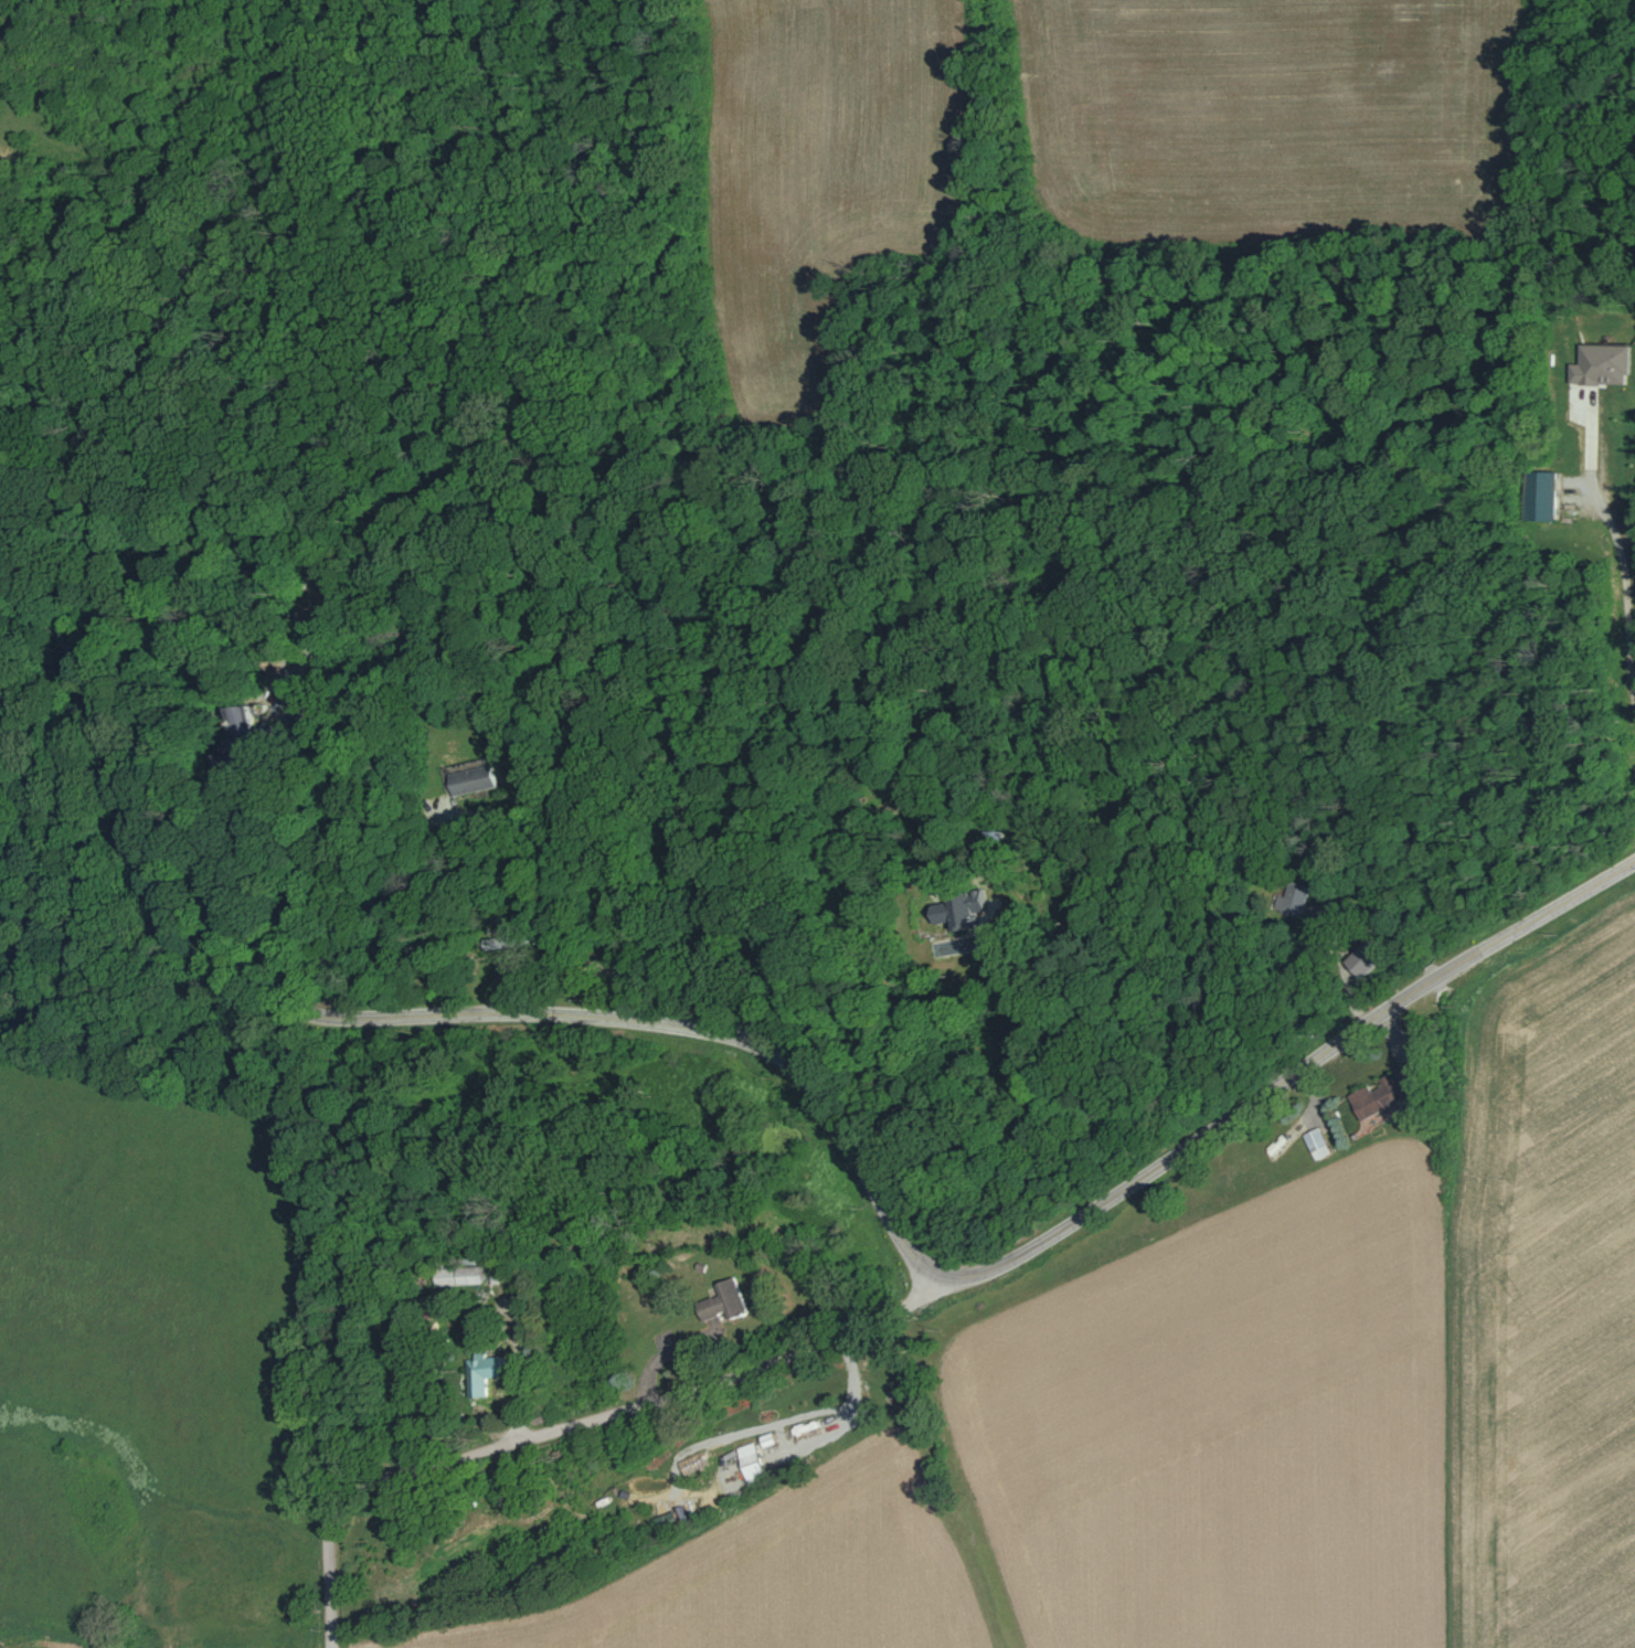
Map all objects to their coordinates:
building: (1596, 364)
building: (1538, 495)
road: (1618, 555)
road: (59, 623)
building: (479, 779)
building: (1293, 899)
building: (956, 908)
building: (1368, 958)
road: (842, 1138)
building: (1314, 1142)
building: (446, 1276)
building: (721, 1300)
building: (497, 1369)
road: (571, 1425)
building: (746, 1463)

